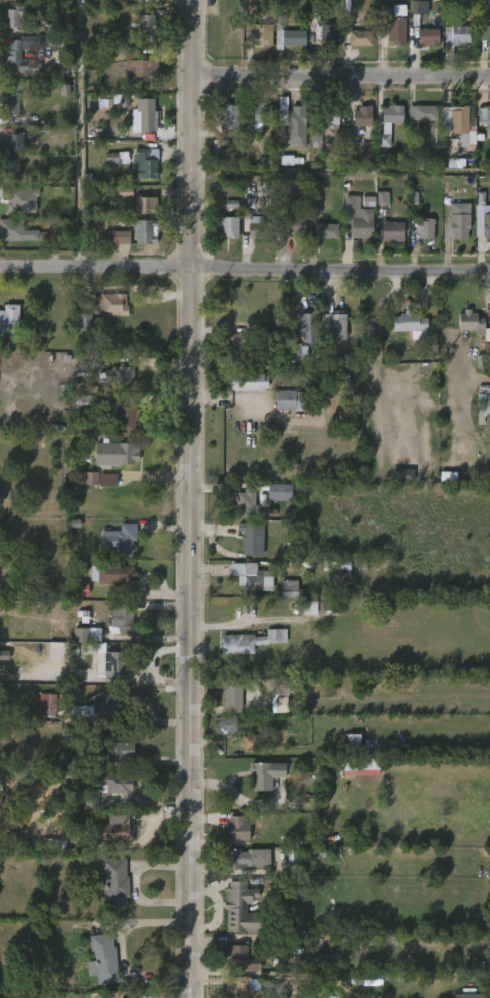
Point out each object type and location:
building: (146, 0)
building: (419, 7)
building: (14, 15)
building: (51, 24)
building: (145, 25)
building: (255, 25)
building: (393, 25)
building: (327, 32)
building: (488, 32)
building: (456, 34)
building: (428, 36)
building: (293, 37)
building: (356, 38)
building: (14, 56)
building: (137, 68)
road: (342, 77)
building: (11, 99)
building: (424, 113)
building: (261, 114)
building: (329, 114)
building: (484, 114)
building: (225, 116)
building: (148, 117)
building: (459, 119)
building: (357, 121)
building: (389, 122)
building: (294, 123)
building: (13, 143)
building: (116, 158)
building: (145, 162)
building: (10, 169)
building: (382, 198)
building: (21, 200)
building: (145, 204)
building: (231, 204)
building: (313, 206)
building: (482, 214)
building: (356, 218)
building: (459, 218)
building: (290, 224)
building: (228, 226)
building: (425, 228)
building: (261, 229)
building: (326, 230)
building: (15, 231)
building: (144, 231)
building: (392, 231)
building: (115, 236)
road: (245, 270)
building: (109, 304)
building: (9, 320)
building: (84, 322)
building: (472, 322)
building: (408, 323)
building: (336, 325)
building: (308, 326)
building: (487, 335)
building: (257, 345)
building: (296, 352)
building: (118, 375)
building: (249, 381)
building: (291, 400)
building: (83, 402)
building: (483, 404)
building: (127, 416)
building: (483, 425)
building: (114, 454)
building: (402, 475)
building: (100, 479)
building: (280, 492)
road: (193, 498)
building: (248, 503)
building: (253, 538)
building: (122, 539)
building: (24, 570)
building: (114, 574)
building: (251, 577)
building: (81, 589)
building: (289, 589)
building: (330, 604)
building: (309, 608)
building: (121, 622)
building: (84, 635)
building: (247, 642)
building: (118, 664)
building: (284, 687)
building: (233, 694)
building: (115, 705)
building: (281, 705)
building: (46, 709)
building: (81, 711)
building: (225, 726)
building: (249, 742)
building: (352, 745)
building: (115, 747)
building: (360, 767)
building: (265, 775)
building: (116, 782)
building: (0, 791)
building: (91, 801)
building: (109, 804)
building: (237, 828)
building: (114, 830)
building: (51, 845)
building: (239, 858)
building: (116, 882)
building: (240, 907)
building: (355, 939)
building: (104, 952)
building: (242, 956)
building: (365, 979)
building: (242, 987)
building: (468, 996)

